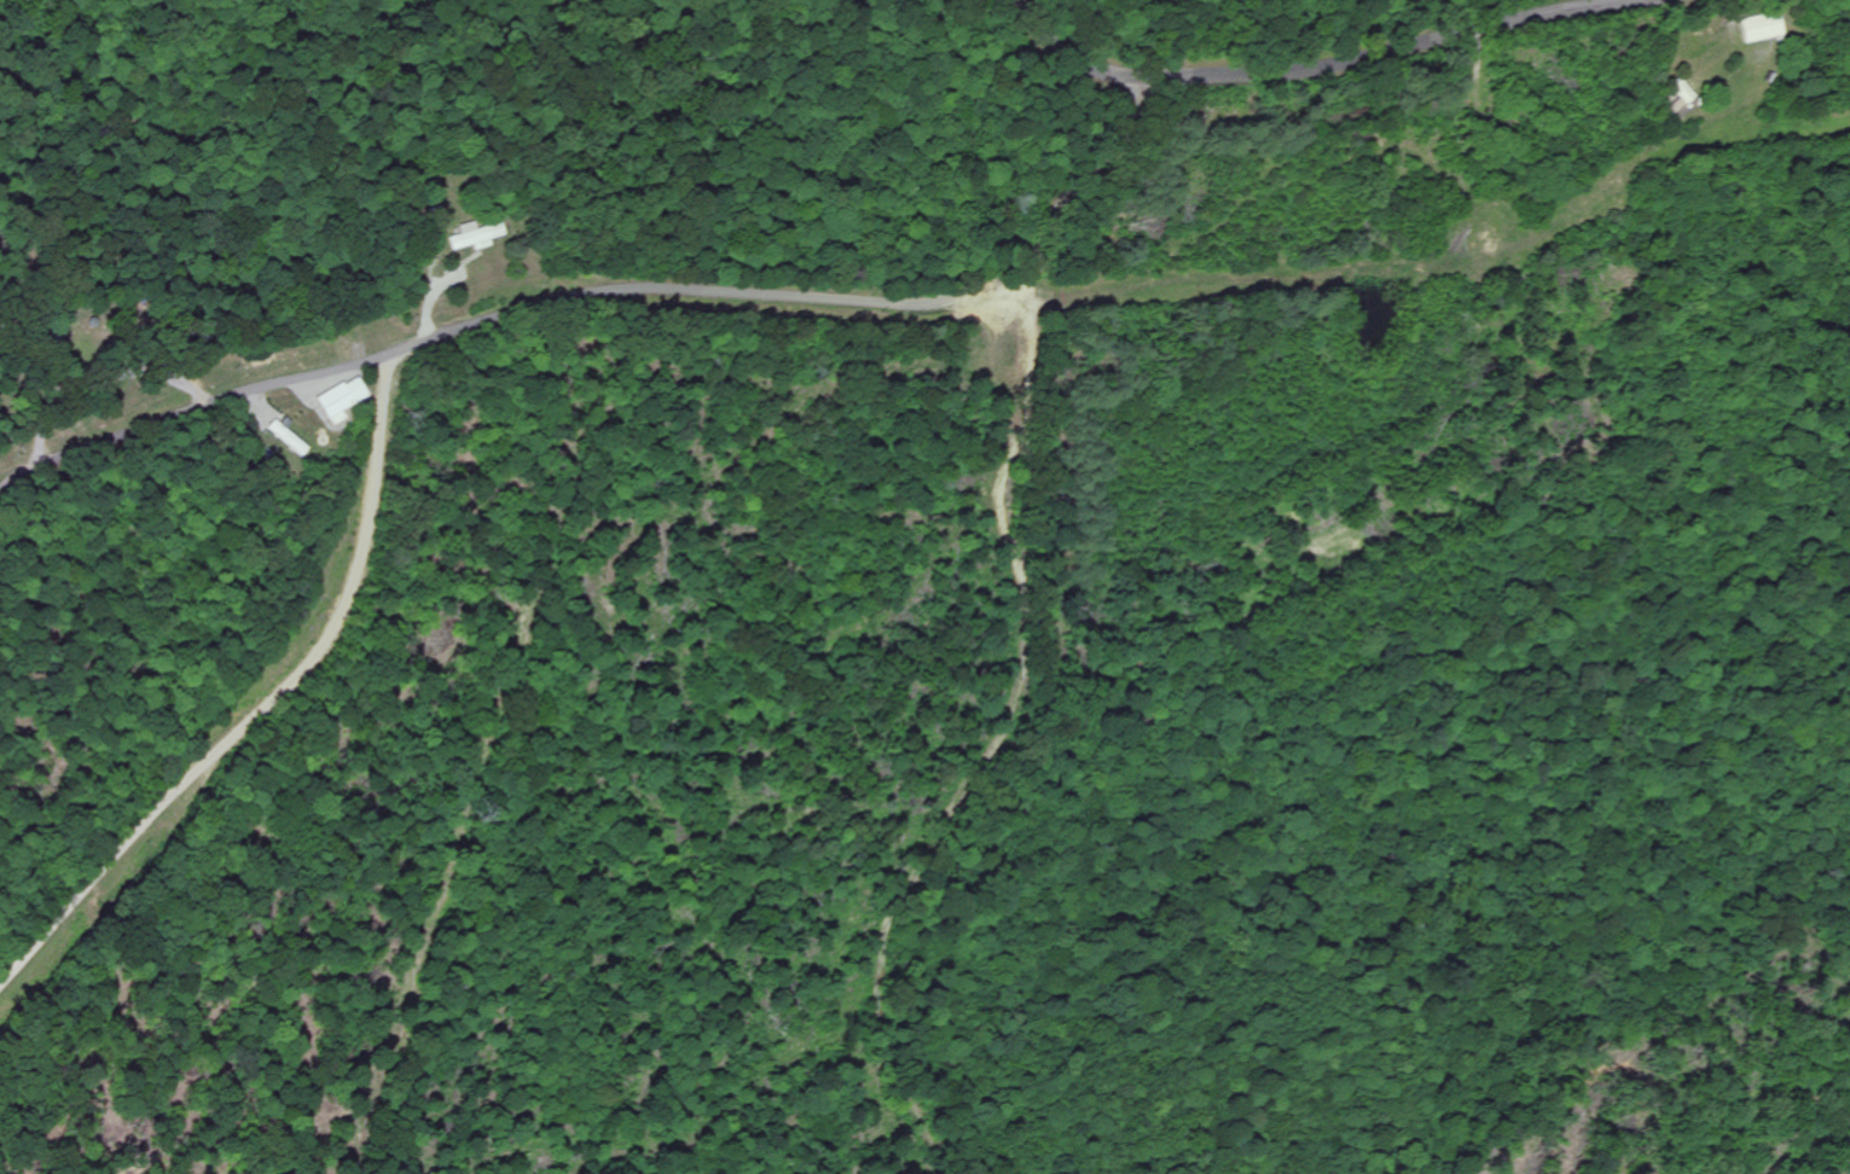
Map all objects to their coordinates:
building: (1759, 27)
road: (1079, 60)
building: (474, 234)
road: (869, 306)
building: (342, 399)
building: (288, 437)
road: (263, 711)

